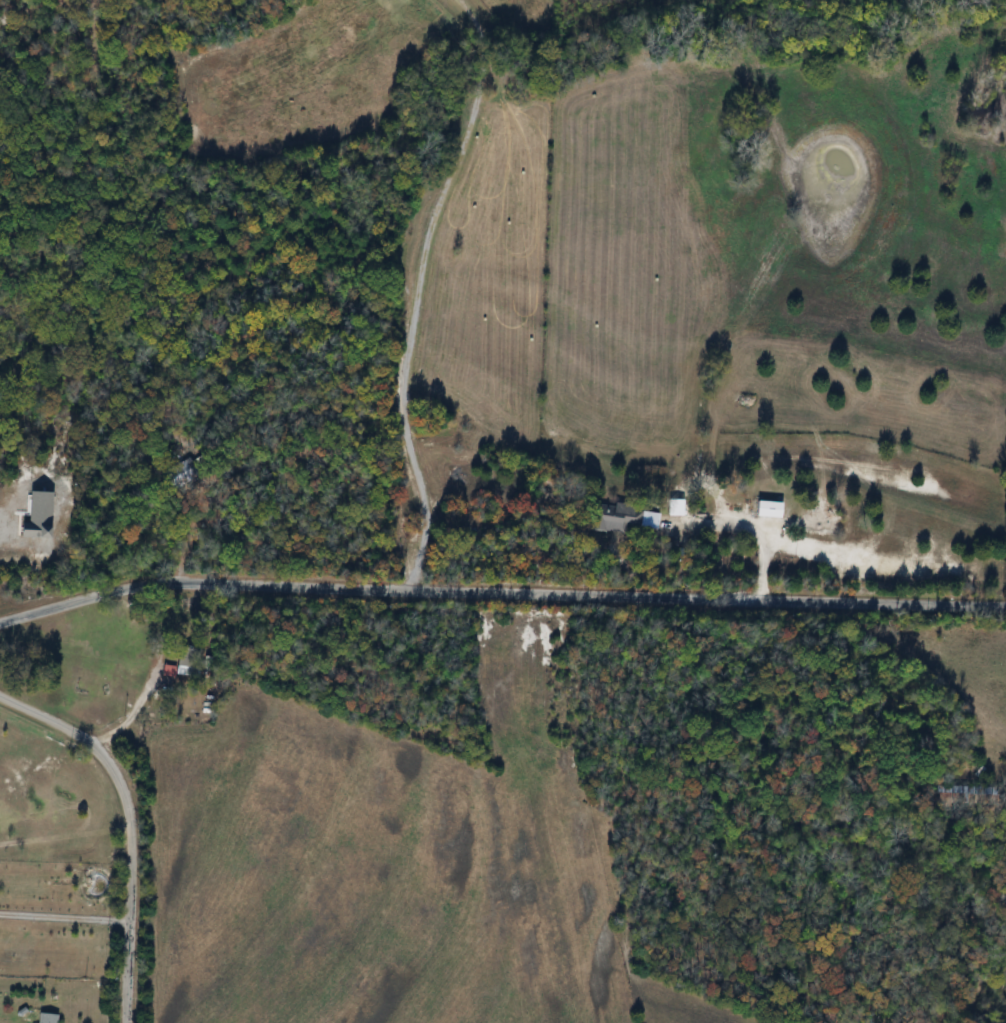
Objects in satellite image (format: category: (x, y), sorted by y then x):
road: (418, 290)
building: (772, 510)
building: (615, 518)
building: (823, 522)
road: (748, 528)
road: (797, 546)
road: (594, 594)
road: (90, 598)
building: (187, 665)
road: (153, 671)
road: (47, 718)
road: (130, 878)
road: (64, 915)
building: (50, 1019)

